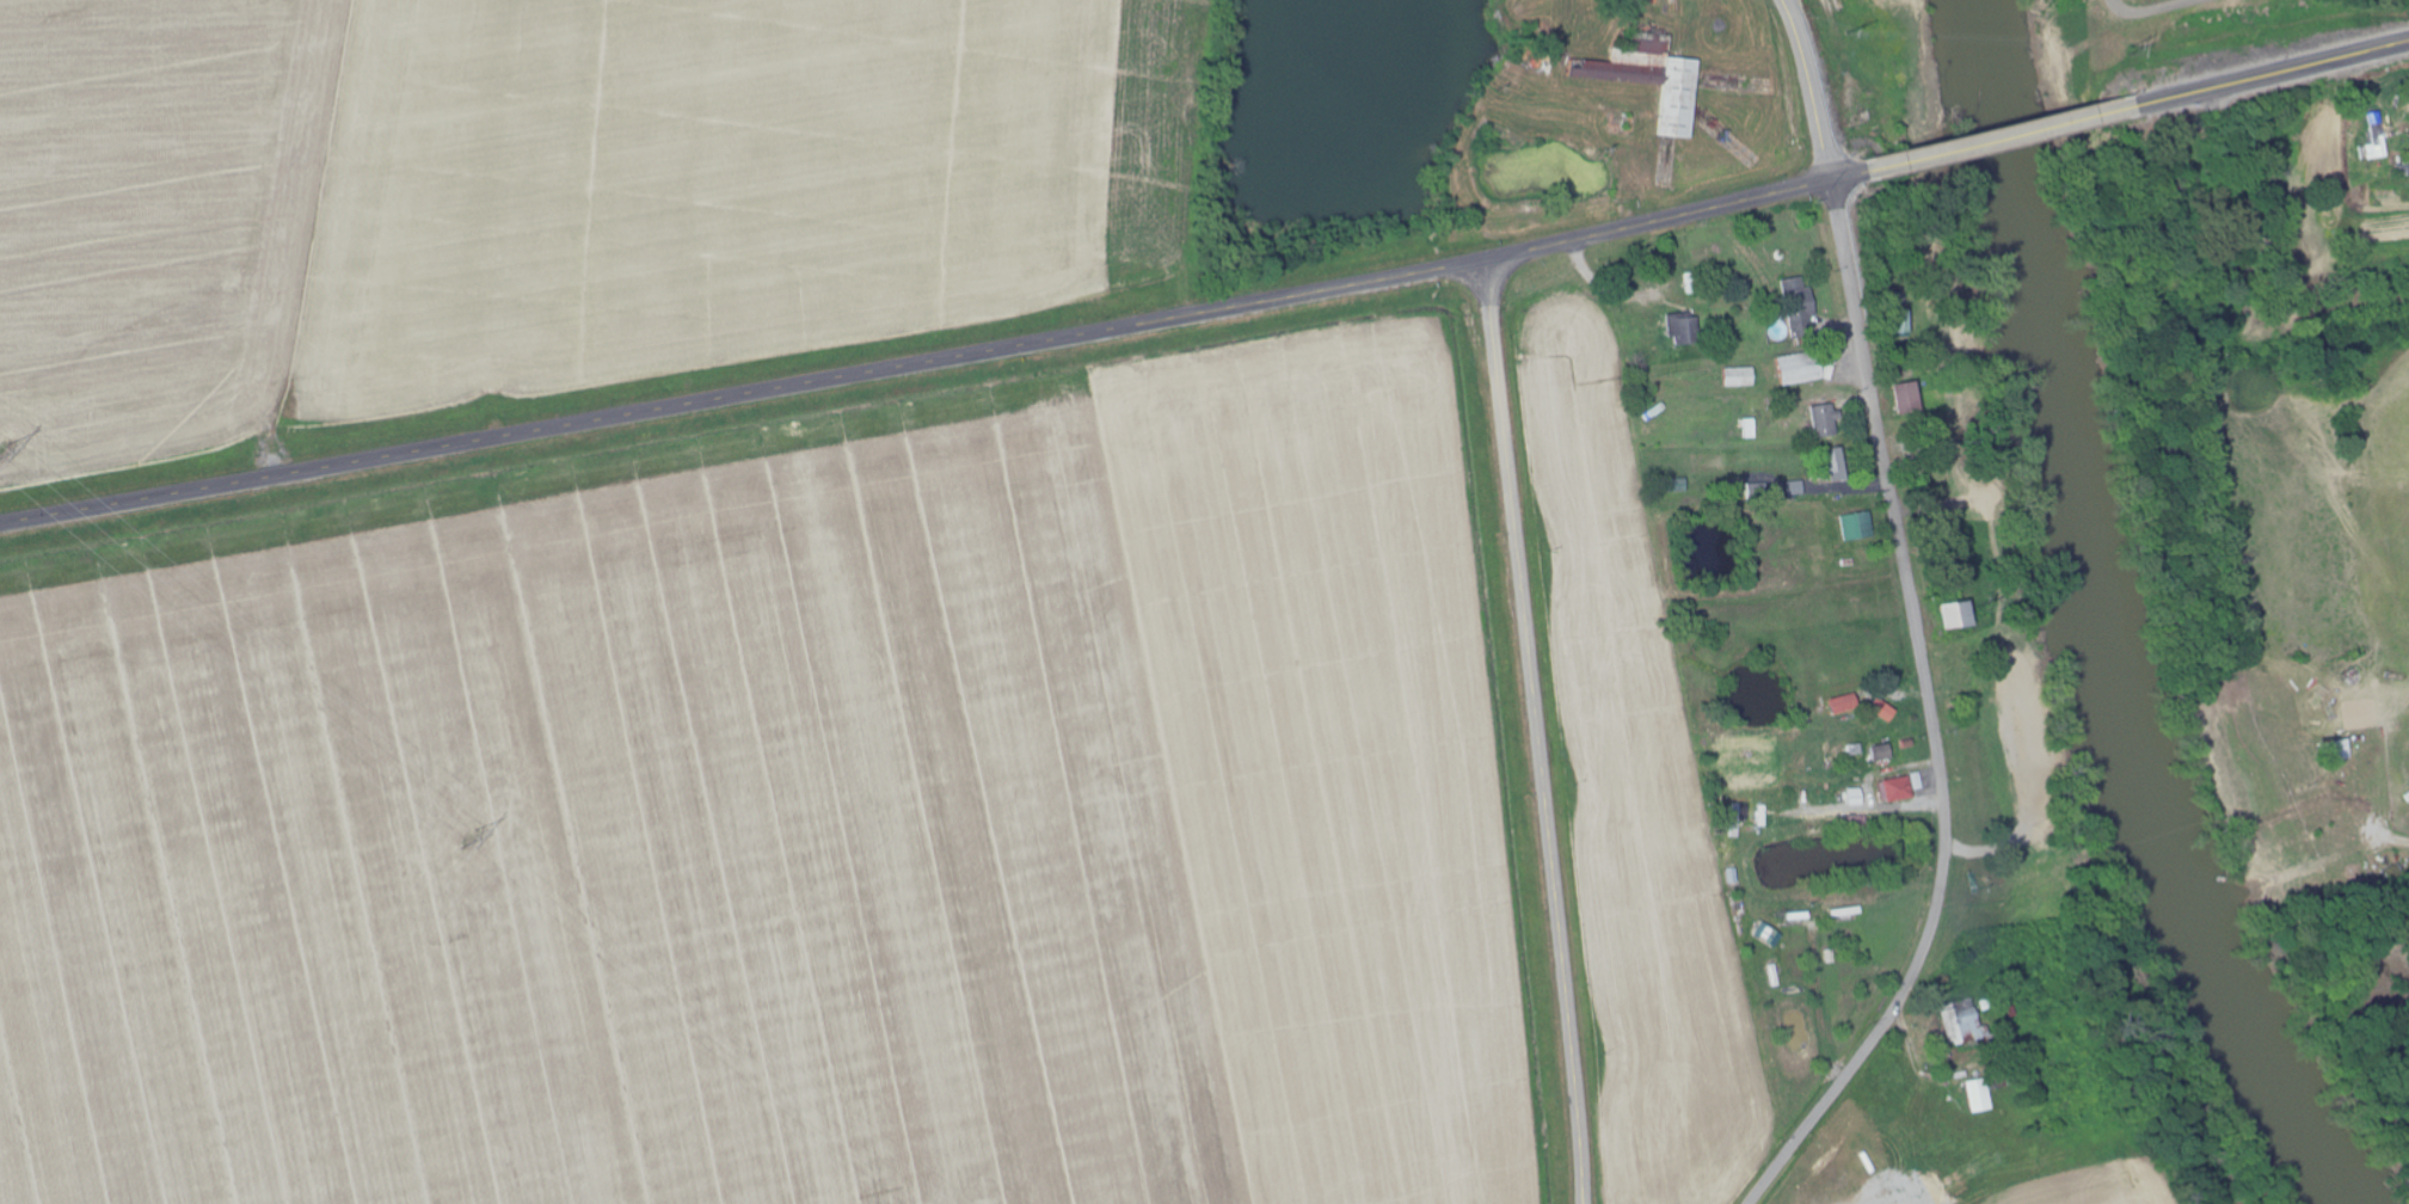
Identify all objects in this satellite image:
road: (2275, 74)
building: (1654, 80)
road: (1807, 88)
road: (2001, 139)
building: (2378, 149)
building: (1688, 330)
road: (932, 358)
building: (1803, 368)
building: (1743, 377)
building: (1827, 422)
building: (1836, 466)
building: (1799, 489)
building: (1860, 527)
building: (1958, 616)
river: (2108, 623)
building: (1843, 706)
building: (1886, 711)
road: (1931, 717)
road: (1537, 732)
building: (2341, 751)
building: (1898, 791)
power tower: (468, 842)
building: (1964, 1027)
building: (1997, 1076)
building: (1981, 1096)

